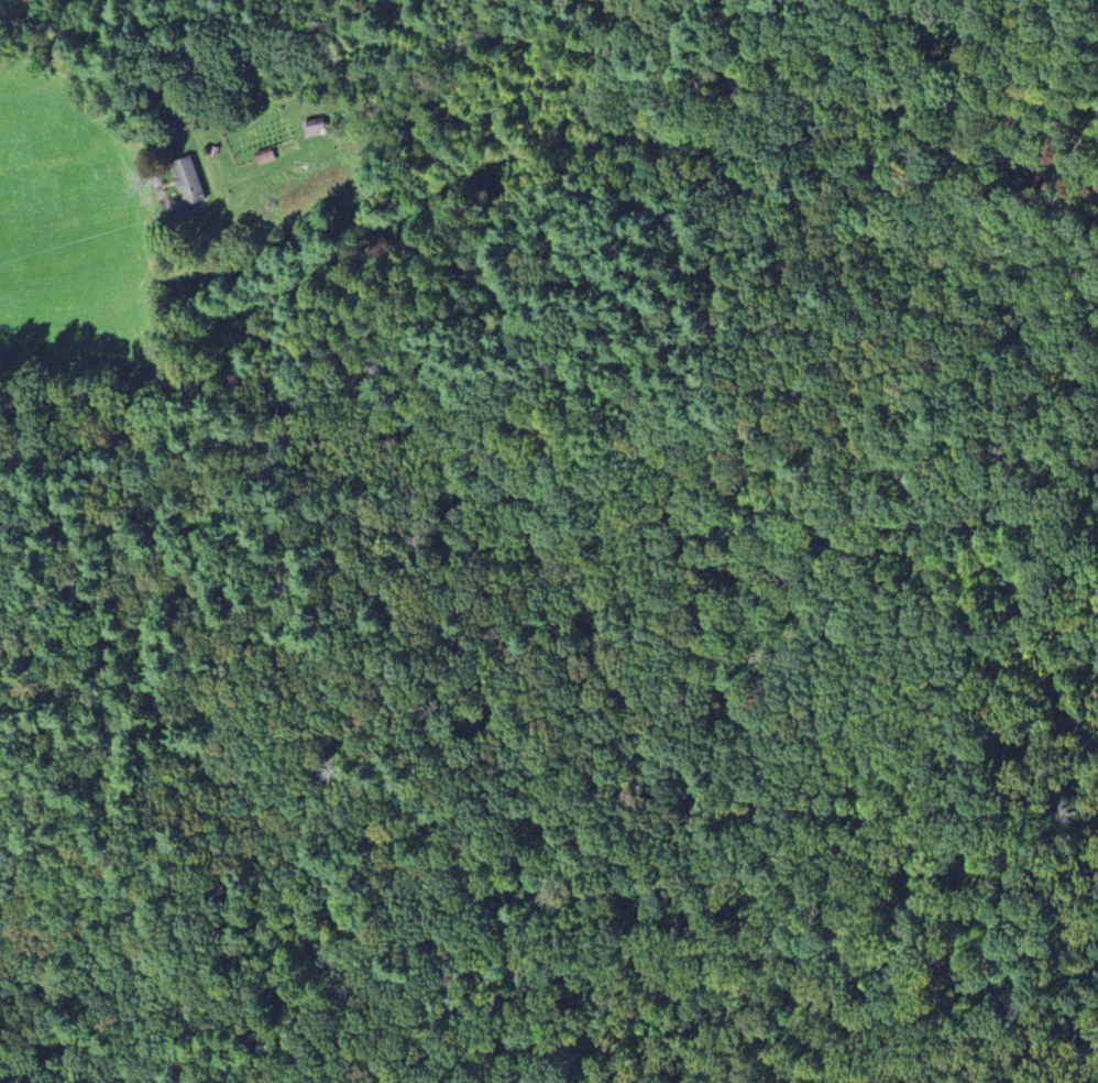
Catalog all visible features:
road: (15, 29)
building: (187, 182)

